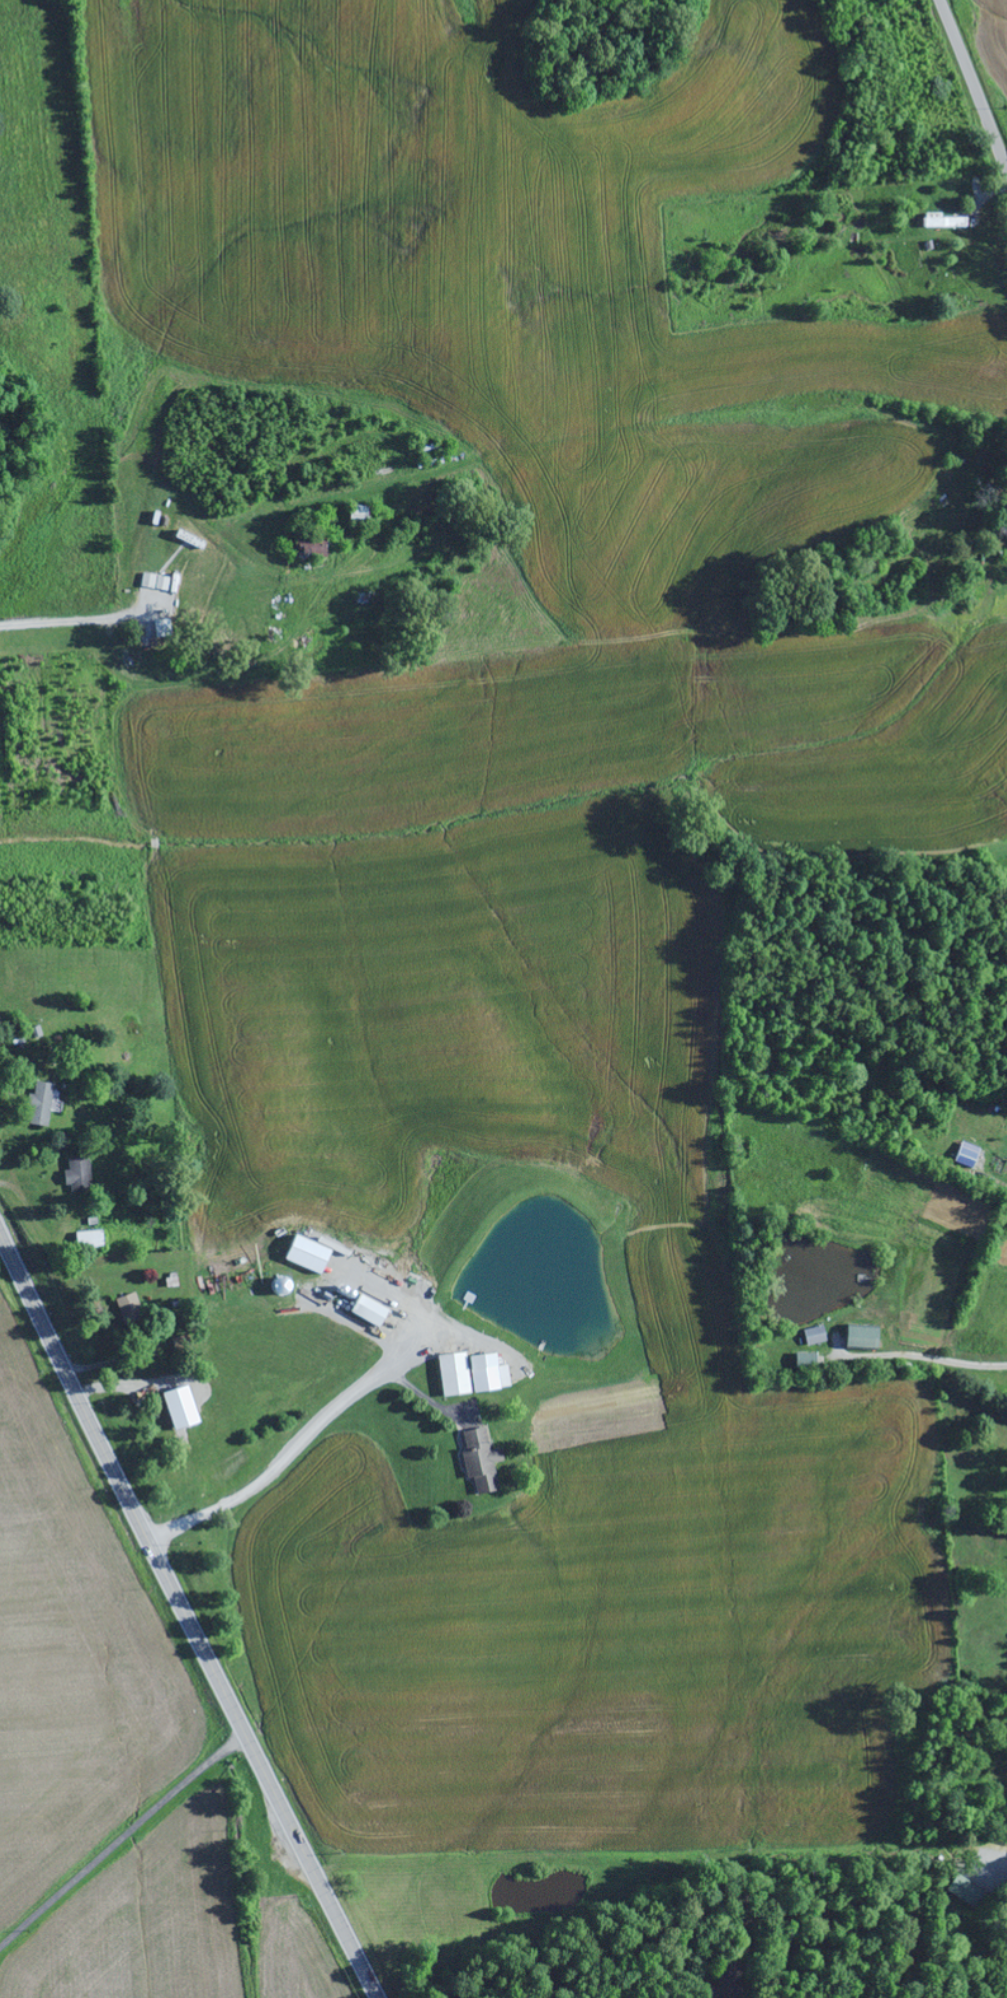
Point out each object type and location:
road: (972, 87)
building: (942, 222)
building: (355, 515)
building: (307, 549)
road: (142, 560)
building: (153, 582)
building: (39, 1104)
building: (75, 1176)
building: (302, 1255)
building: (126, 1307)
building: (364, 1311)
building: (812, 1336)
building: (857, 1339)
building: (803, 1361)
building: (468, 1374)
building: (175, 1409)
building: (478, 1462)
road: (184, 1617)
building: (960, 1887)

